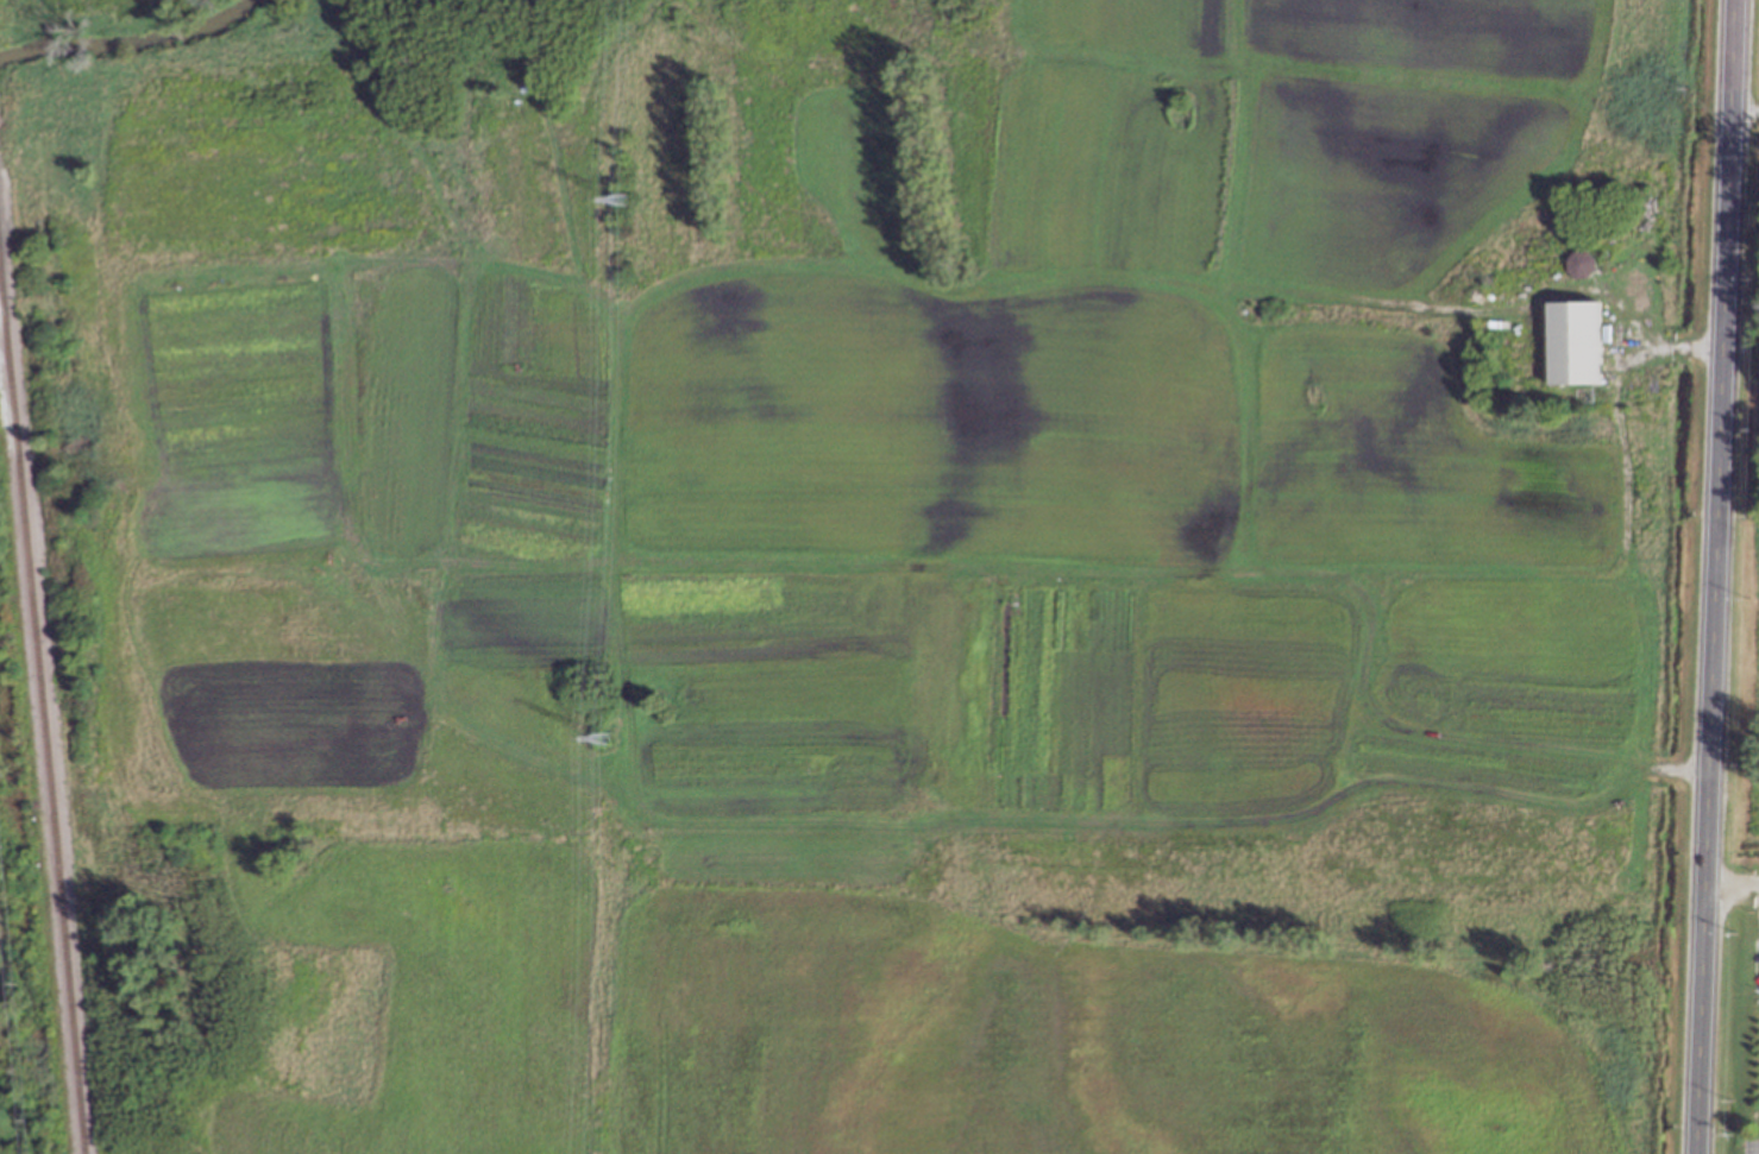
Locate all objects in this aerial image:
river: (131, 48)
park: (589, 144)
building: (1579, 263)
building: (1573, 341)
road: (1715, 576)
crop: (947, 658)
railway: (40, 711)
road: (1732, 891)

